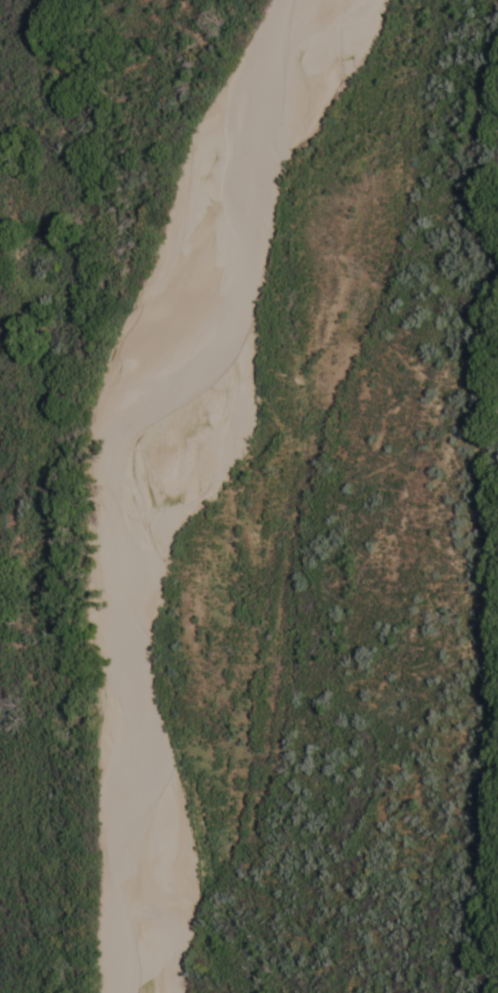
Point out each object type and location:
river: (132, 473)

